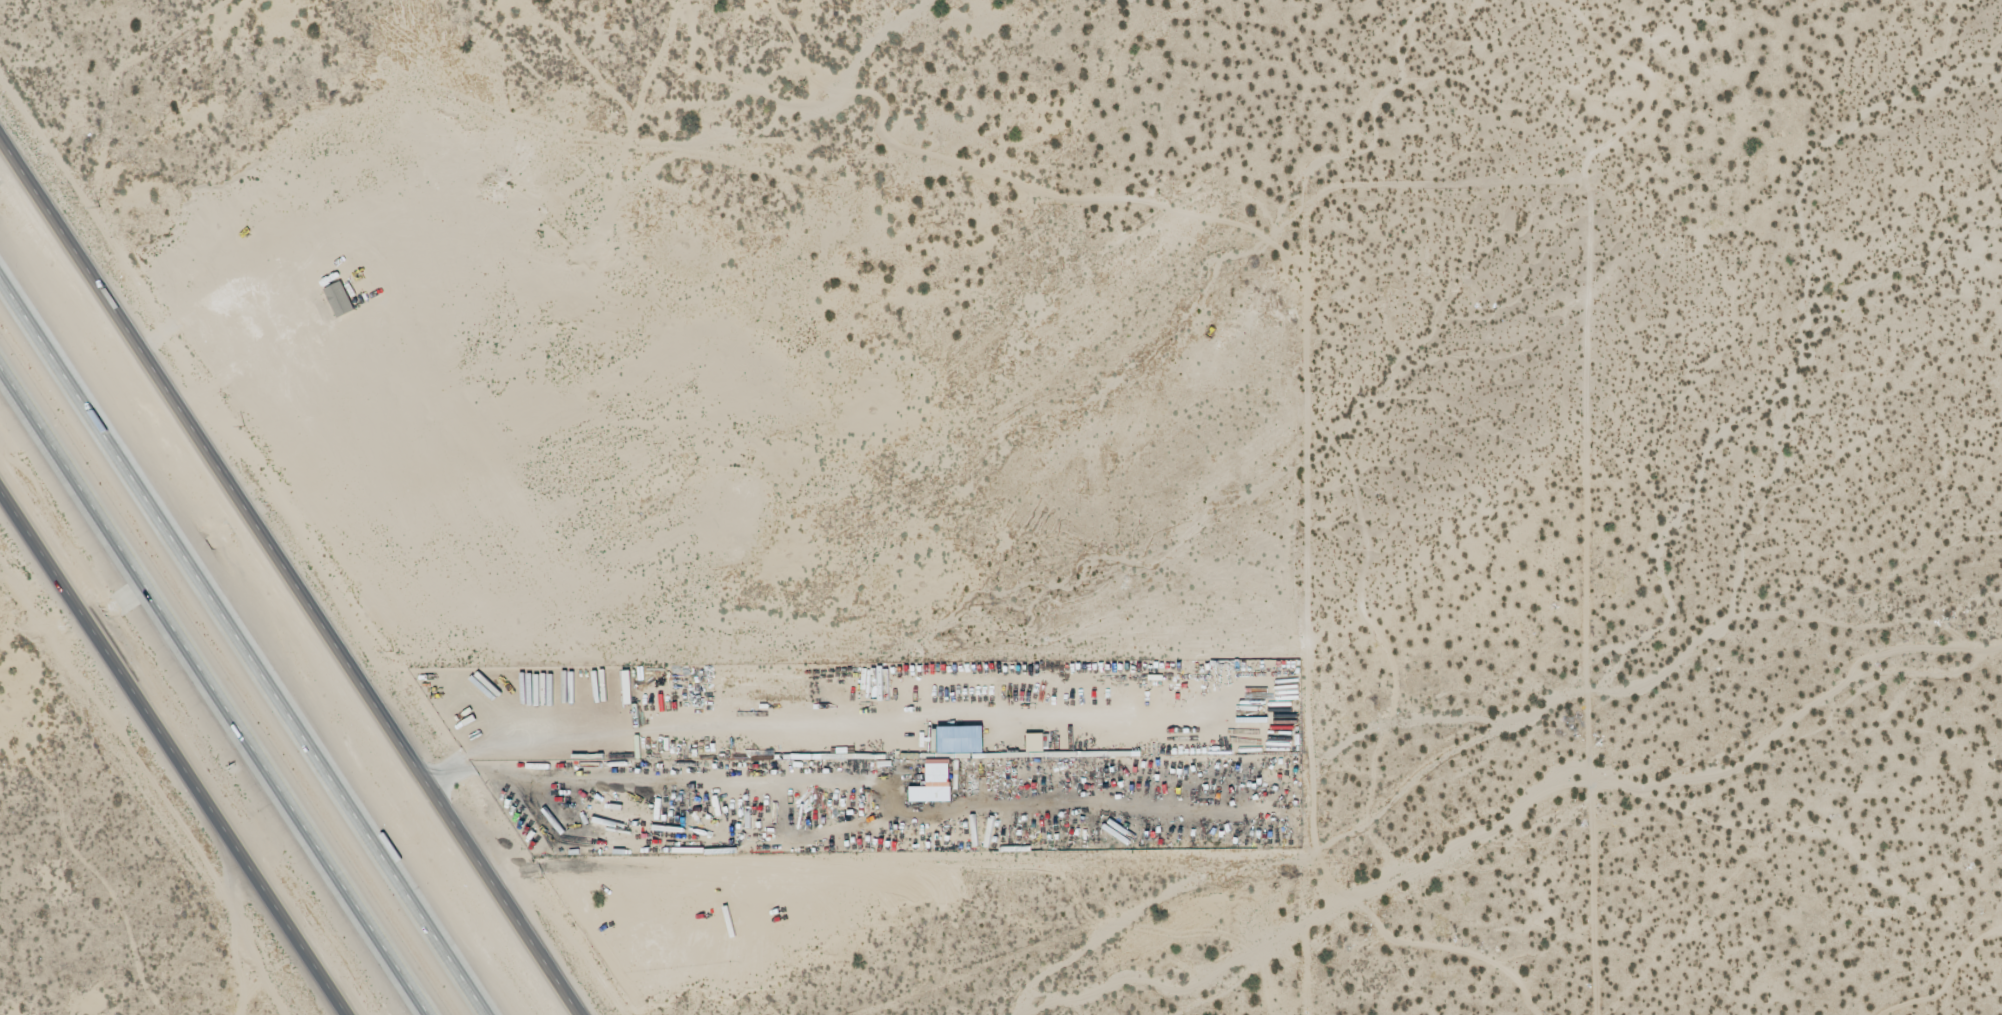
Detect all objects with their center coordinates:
road: (290, 575)
road: (242, 647)
road: (1433, 676)
road: (213, 692)
building: (960, 740)
building: (1037, 744)
road: (173, 751)
building: (933, 783)

